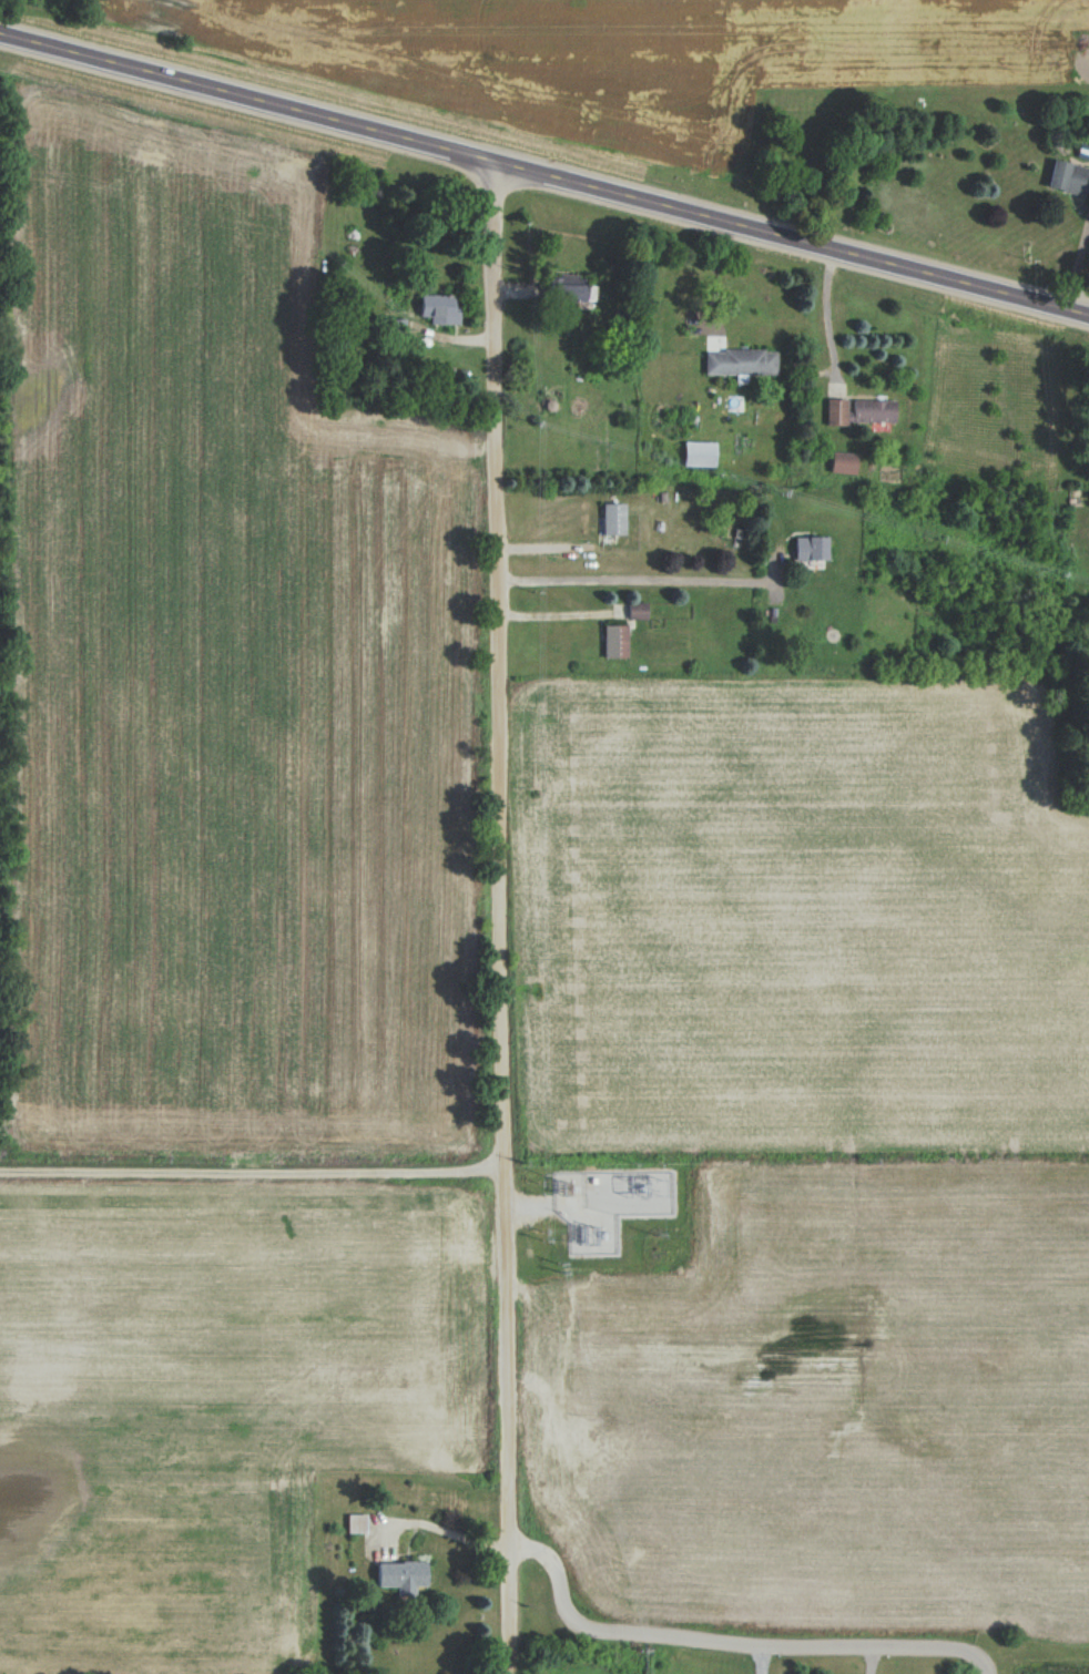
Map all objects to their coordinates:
road: (544, 174)
building: (1067, 177)
road: (1076, 263)
road: (714, 280)
building: (568, 288)
building: (438, 308)
road: (832, 313)
building: (740, 361)
building: (872, 410)
building: (835, 412)
building: (698, 453)
building: (843, 462)
building: (613, 519)
building: (810, 548)
road: (637, 580)
building: (637, 611)
building: (614, 641)
crop: (222, 691)
road: (503, 917)
crop: (797, 919)
road: (253, 1167)
power substation: (601, 1207)
crop: (211, 1399)
crop: (838, 1399)
road: (442, 1531)
building: (401, 1575)
road: (726, 1642)
road: (759, 1660)

